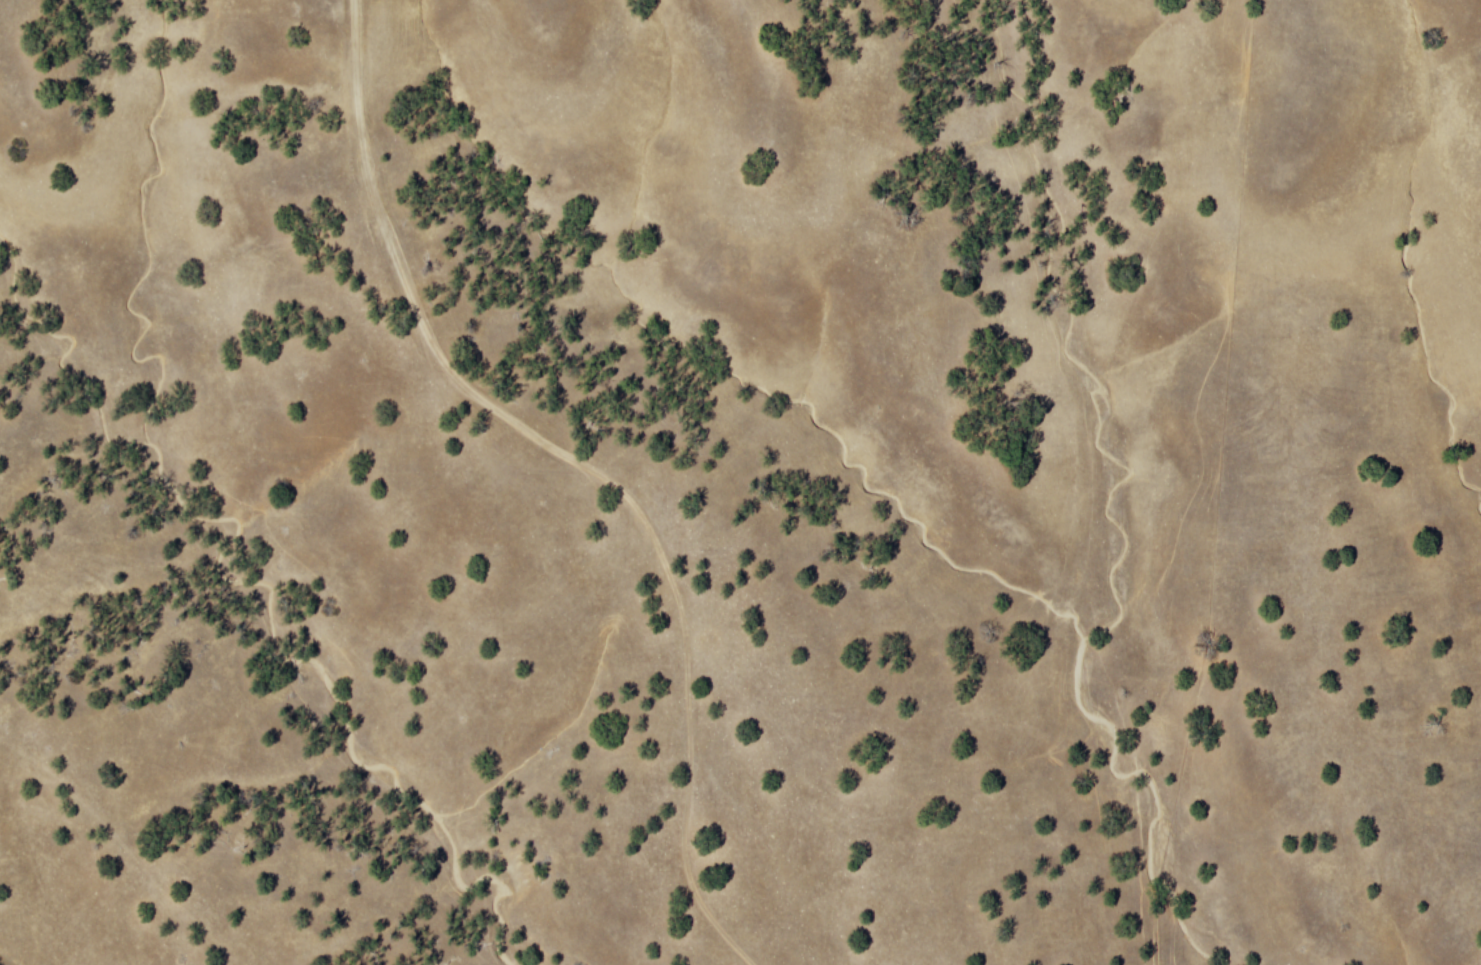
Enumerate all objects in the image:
road: (585, 466)

